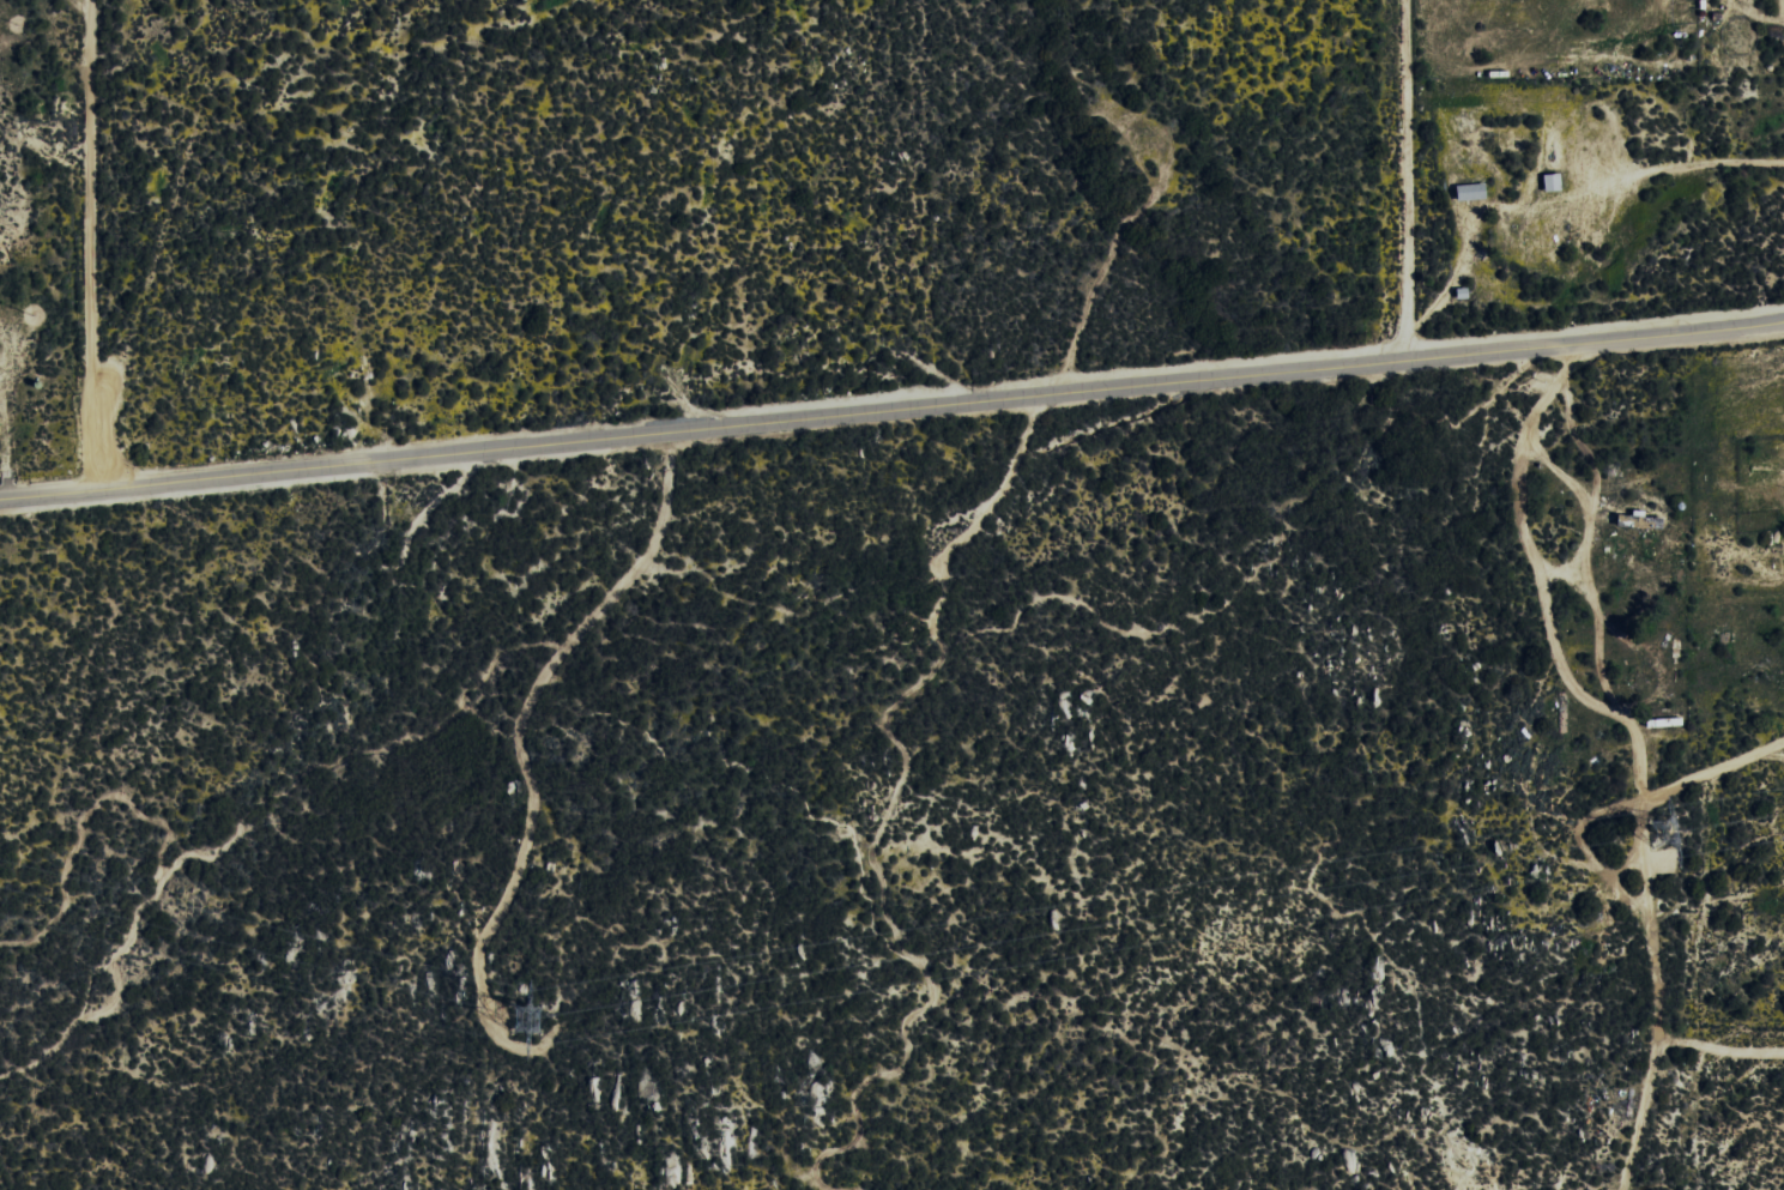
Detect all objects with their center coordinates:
building: (1554, 182)
building: (1472, 192)
road: (891, 412)
power tower: (1652, 833)
power tower: (521, 1022)

